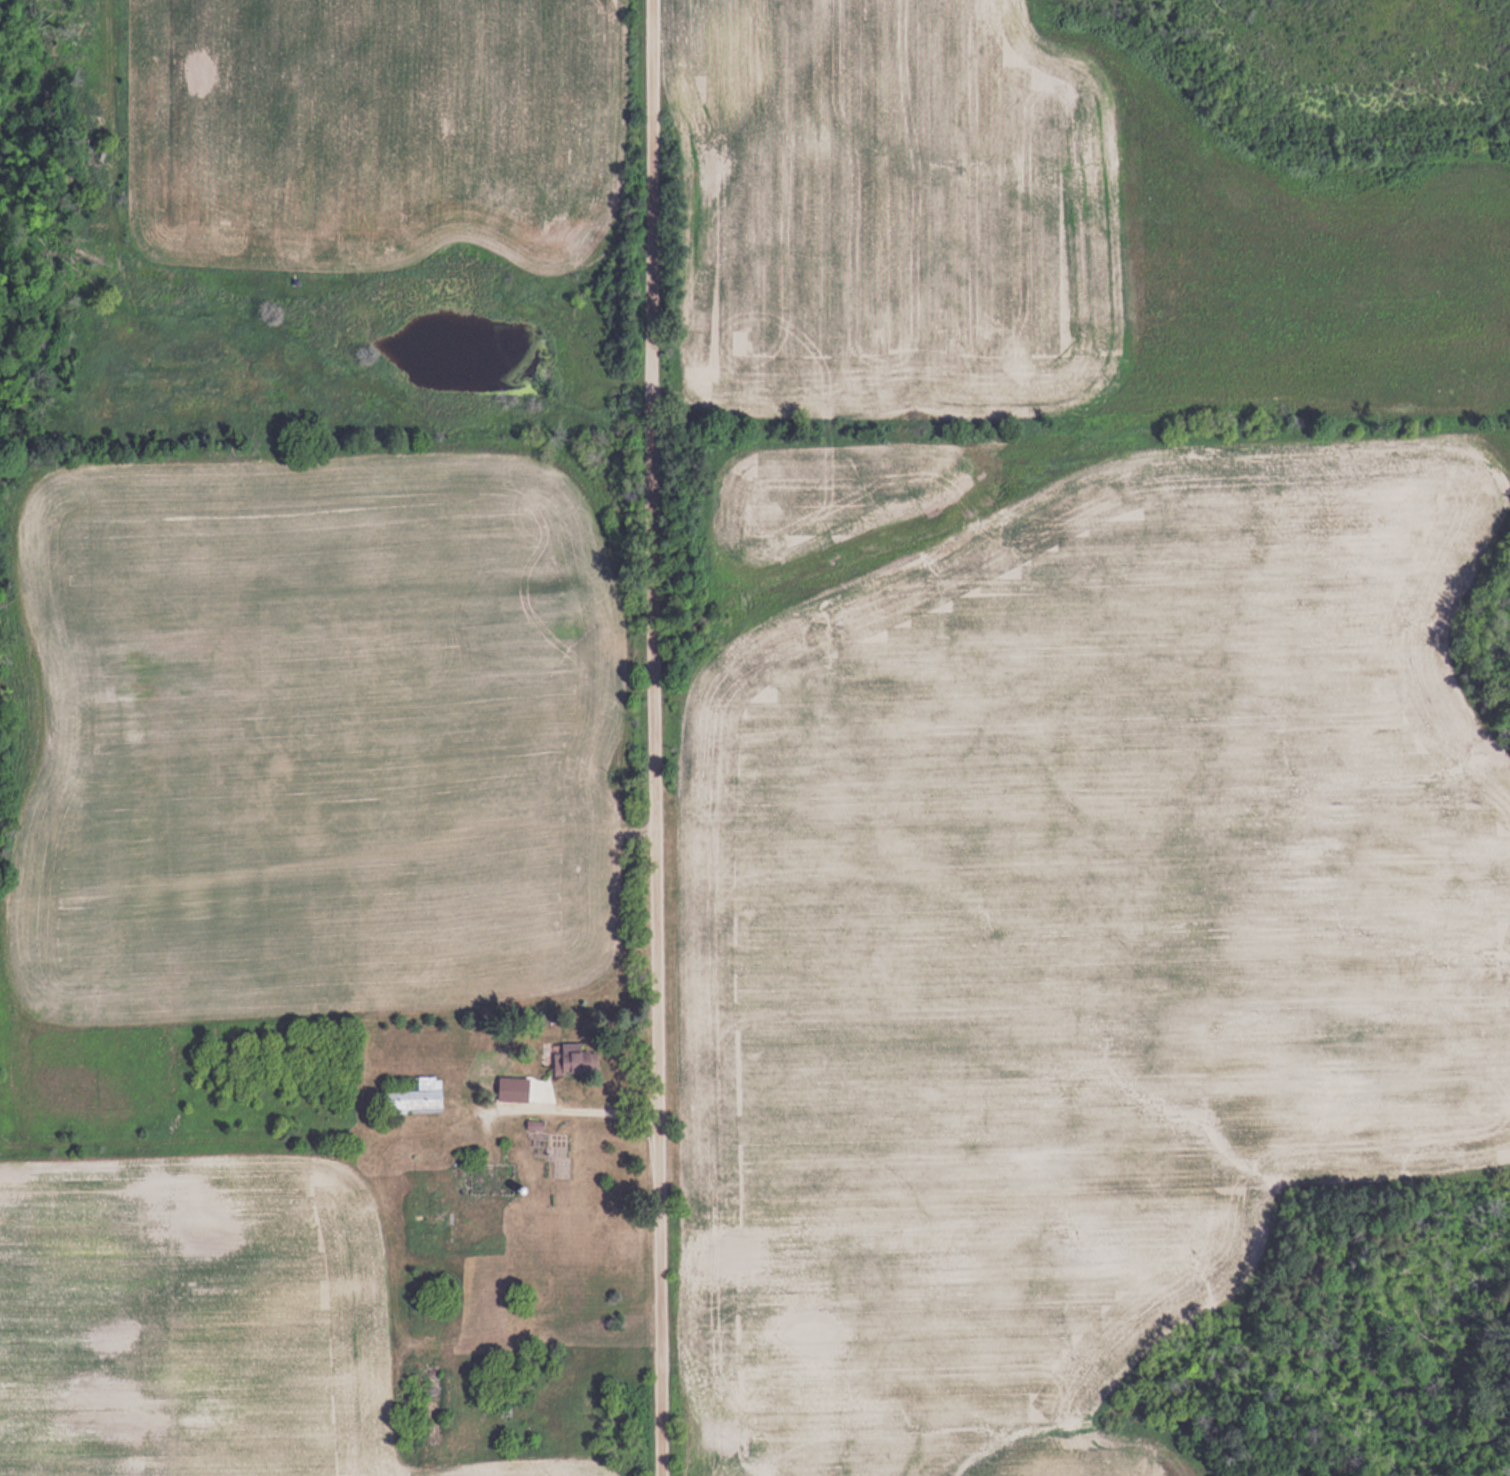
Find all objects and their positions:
road: (651, 738)
building: (579, 1055)
building: (416, 1094)
road: (596, 1101)
building: (496, 1178)

